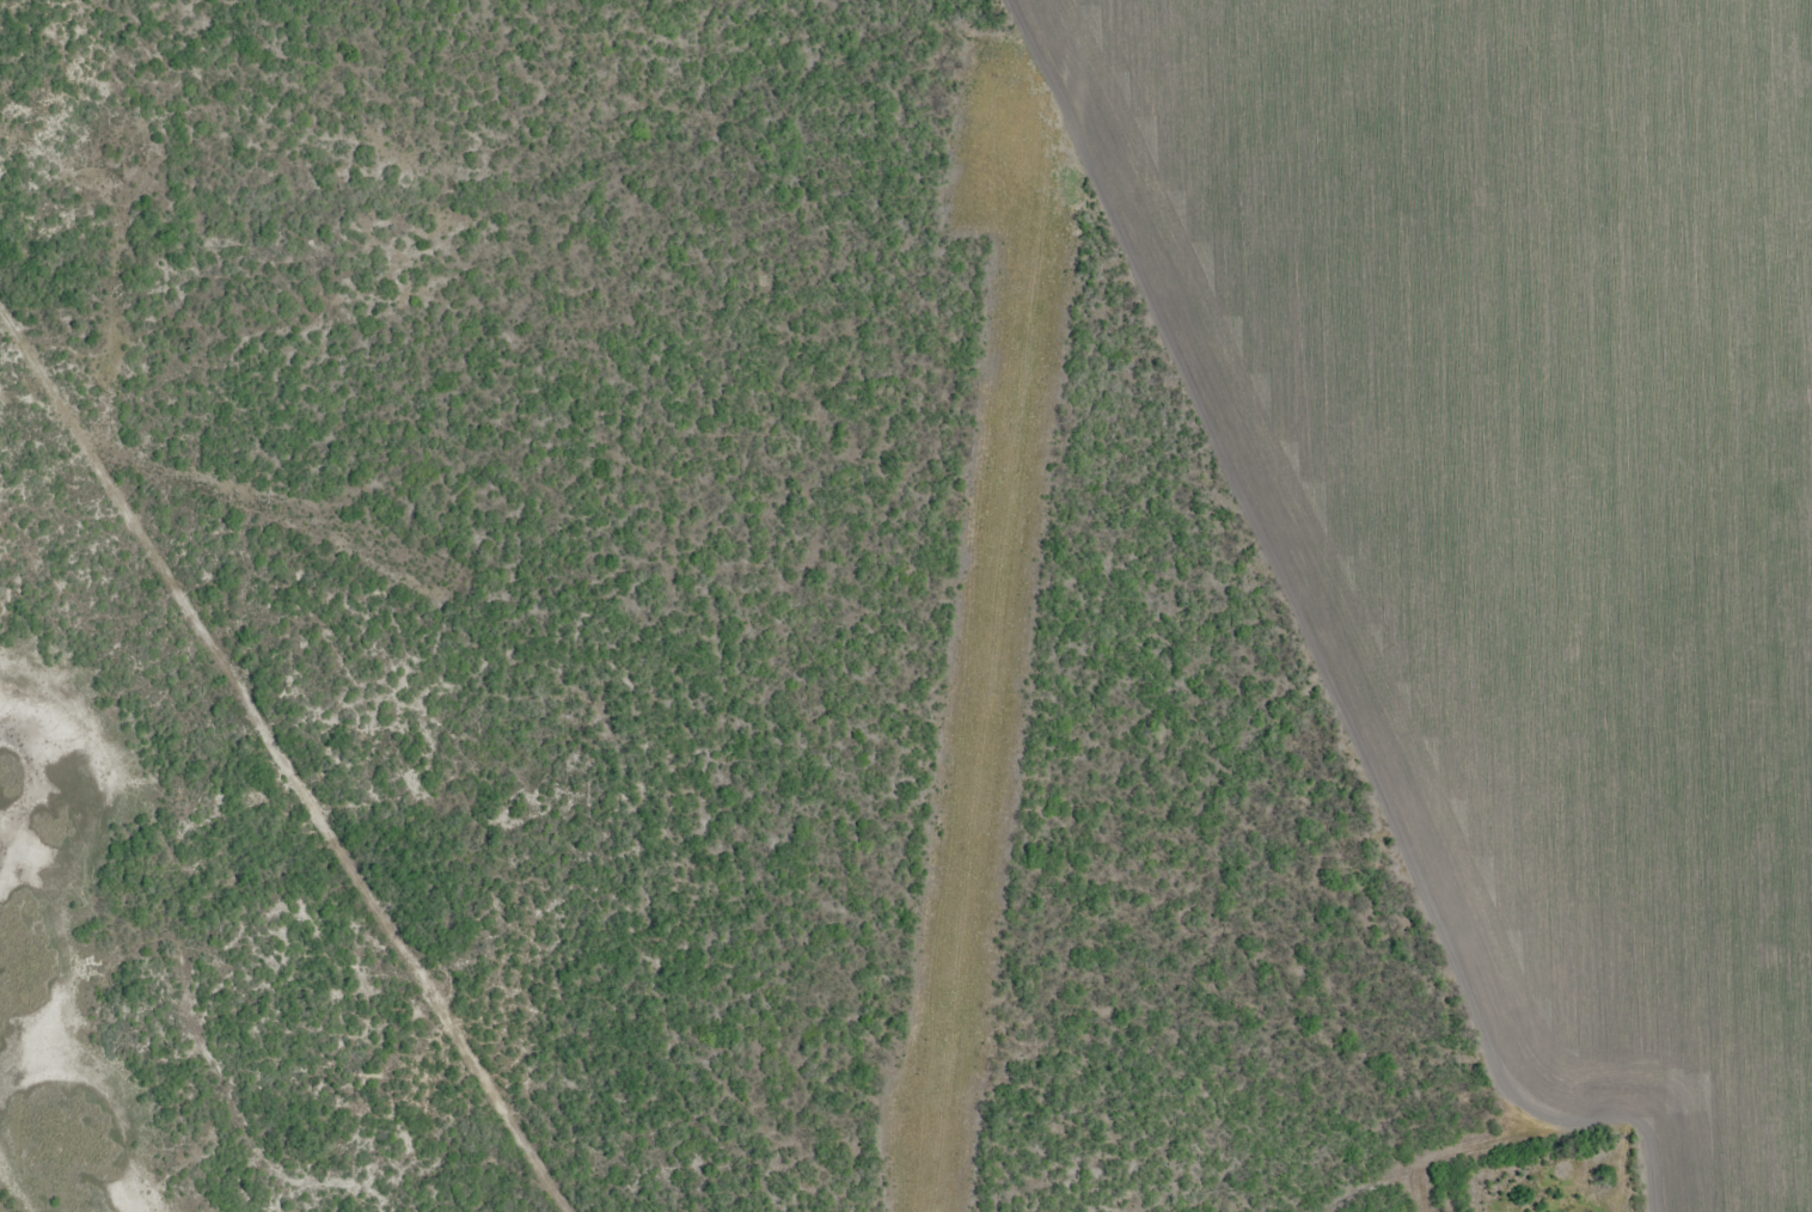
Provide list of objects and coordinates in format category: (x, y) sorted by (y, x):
road: (1679, 1088)

